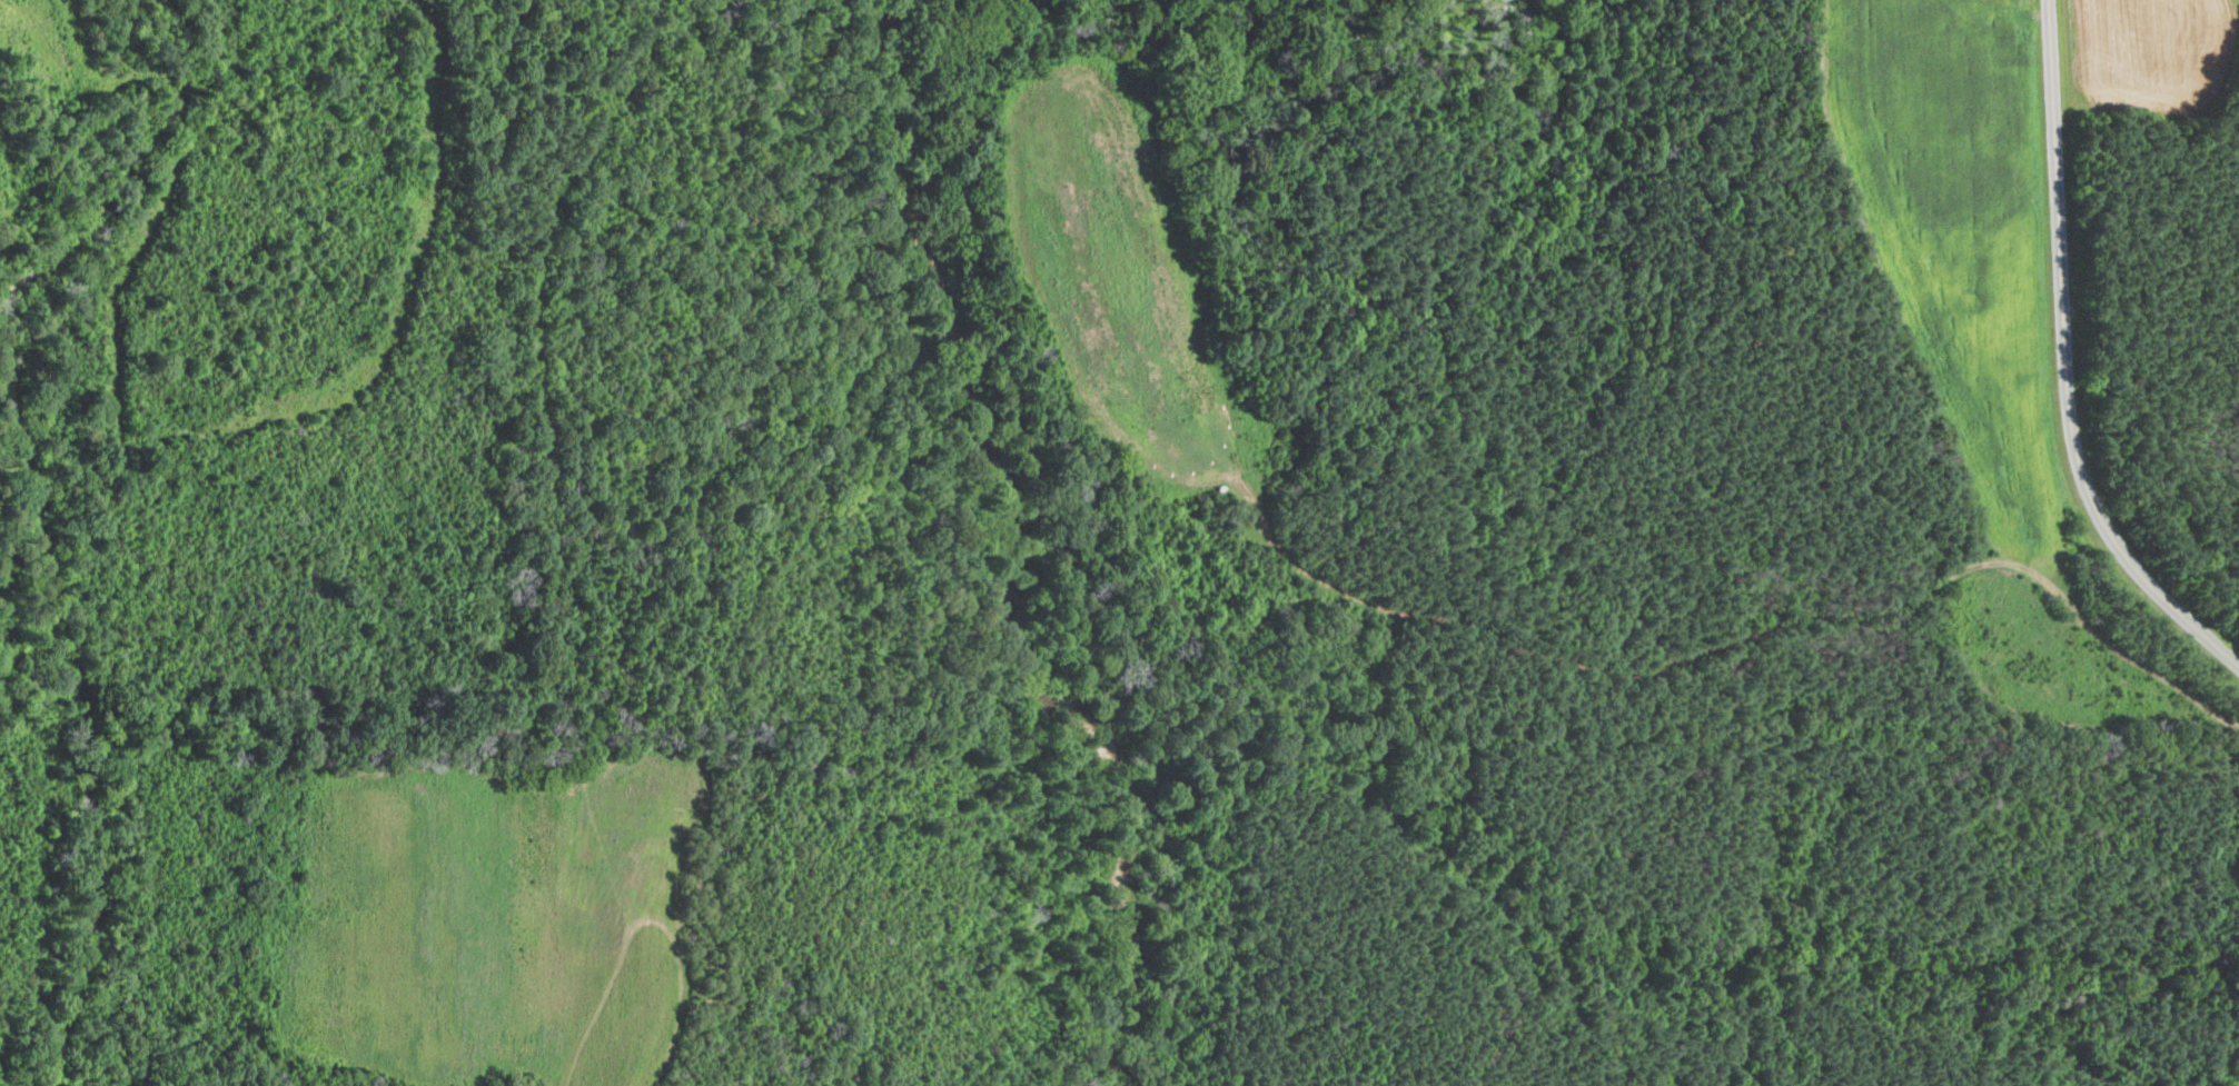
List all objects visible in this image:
road: (2069, 359)

